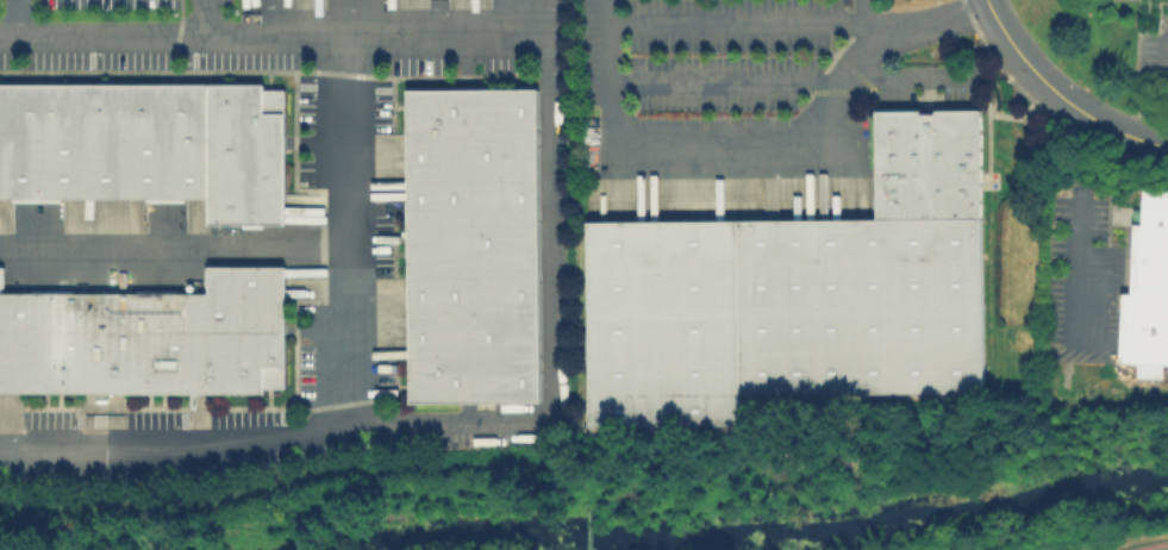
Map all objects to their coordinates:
road: (13, 18)
road: (206, 19)
road: (548, 19)
road: (868, 19)
road: (929, 24)
road: (273, 38)
road: (1166, 56)
road: (908, 76)
road: (1043, 80)
building: (148, 142)
road: (1147, 142)
road: (702, 161)
building: (868, 202)
road: (1086, 230)
road: (173, 244)
building: (474, 244)
road: (346, 262)
building: (1149, 285)
building: (801, 292)
road: (545, 330)
building: (149, 337)
road: (143, 443)
road: (260, 490)

